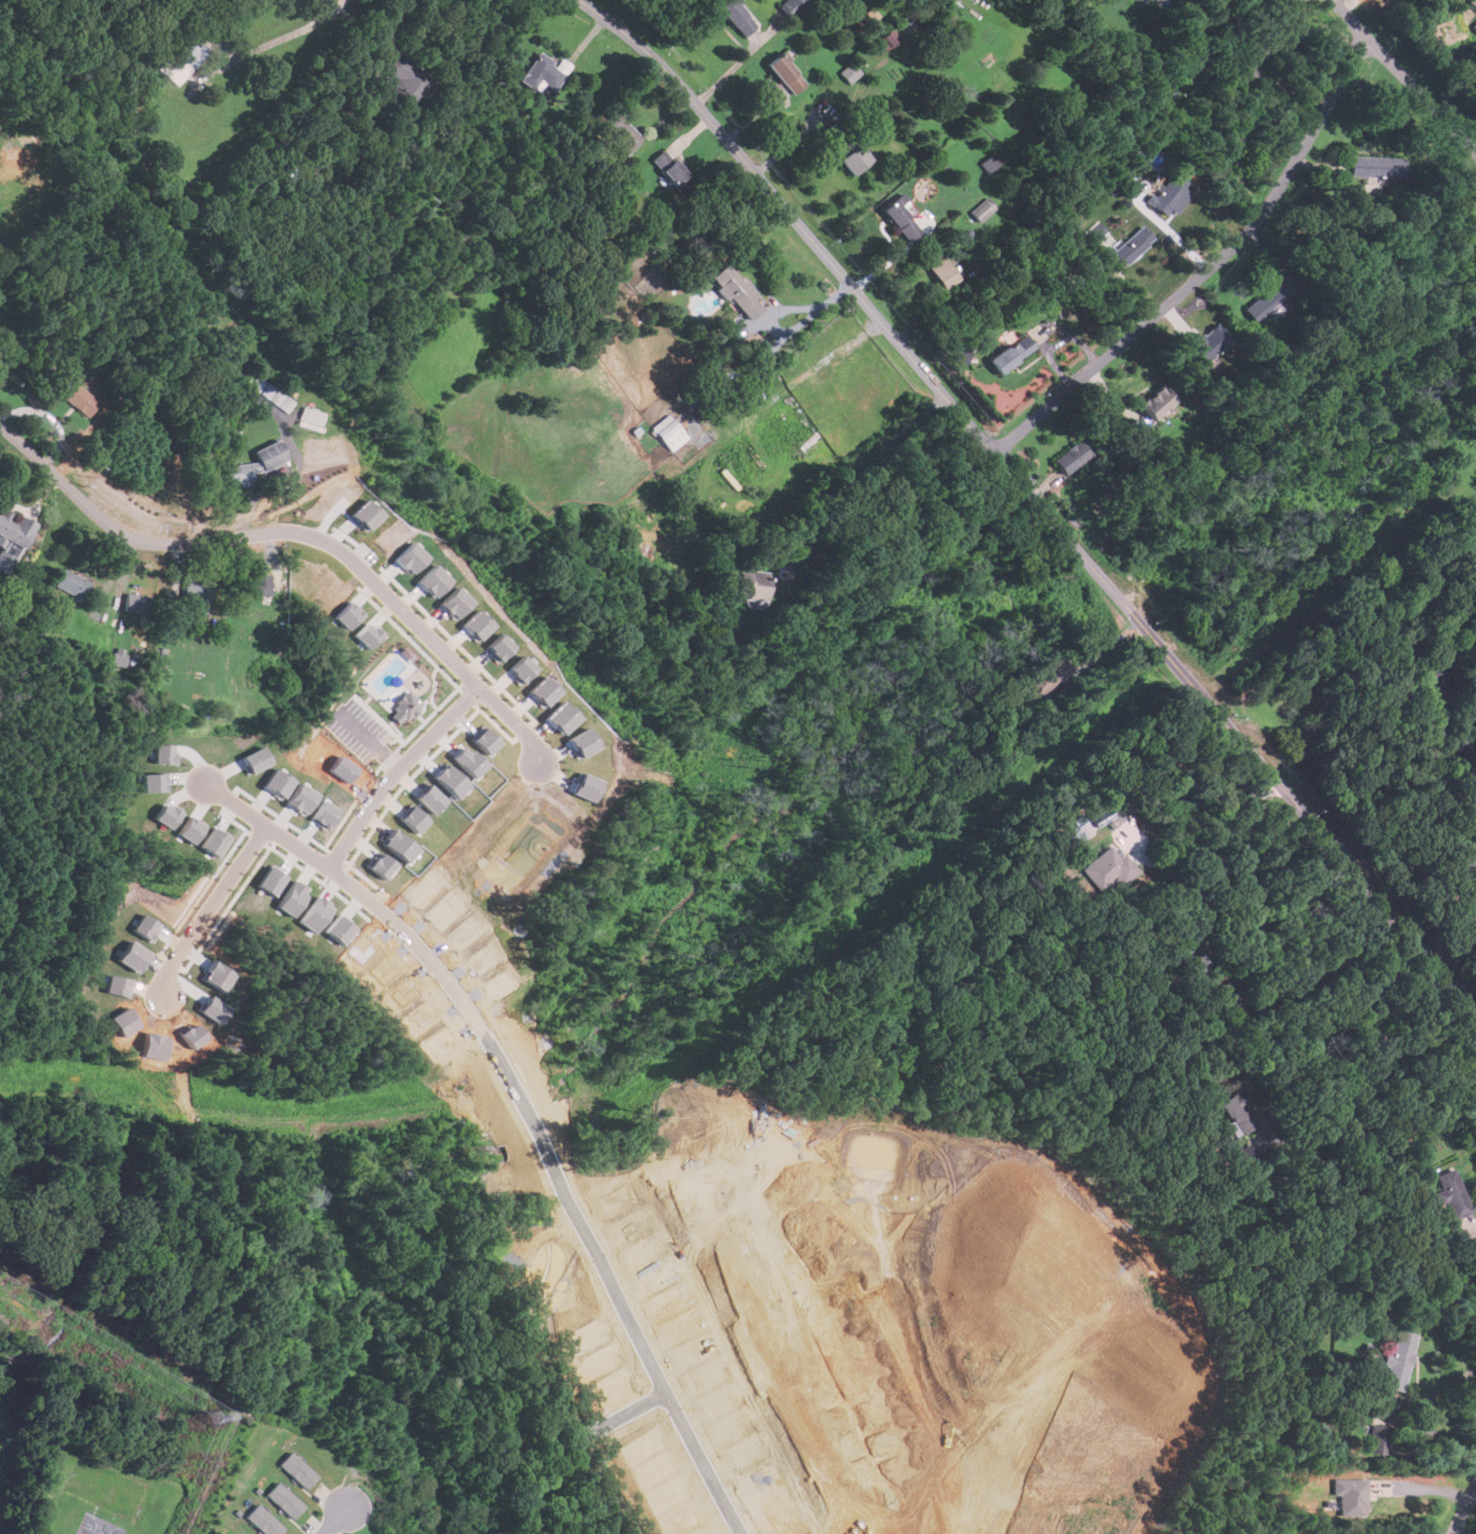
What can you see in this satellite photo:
building: (1472, 4)
building: (791, 6)
building: (736, 17)
road: (1348, 19)
building: (343, 20)
building: (1474, 26)
road: (284, 36)
building: (1243, 38)
building: (888, 39)
building: (181, 60)
building: (850, 73)
building: (541, 74)
building: (786, 74)
building: (407, 81)
road: (1283, 85)
road: (1455, 96)
road: (1420, 97)
building: (621, 134)
building: (846, 148)
building: (989, 163)
building: (1376, 167)
building: (670, 170)
building: (1168, 196)
building: (982, 210)
building: (900, 220)
road: (1167, 230)
building: (1094, 231)
building: (1130, 247)
road: (1206, 269)
building: (940, 271)
building: (737, 293)
building: (1268, 300)
road: (790, 329)
building: (1208, 341)
building: (1011, 354)
road: (827, 362)
building: (272, 394)
building: (80, 401)
building: (1157, 403)
building: (310, 418)
building: (668, 432)
building: (1072, 456)
building: (257, 463)
road: (852, 474)
road: (1033, 502)
building: (363, 514)
building: (14, 529)
road: (292, 533)
building: (408, 558)
building: (431, 580)
building: (70, 584)
building: (255, 585)
building: (750, 586)
building: (197, 591)
building: (453, 602)
building: (135, 603)
building: (475, 625)
building: (498, 646)
building: (118, 656)
building: (520, 669)
building: (1047, 676)
building: (1434, 676)
building: (542, 691)
building: (560, 717)
building: (1454, 749)
building: (469, 761)
road: (395, 772)
building: (451, 780)
road: (1424, 783)
building: (1102, 817)
building: (1077, 832)
road: (1206, 839)
building: (1470, 864)
building: (1107, 867)
road: (1243, 881)
road: (213, 907)
building: (1256, 922)
road: (1450, 937)
road: (1321, 957)
building: (1190, 959)
building: (1230, 998)
road: (1362, 1071)
building: (1238, 1112)
road: (527, 1119)
building: (1244, 1155)
building: (1453, 1193)
road: (1475, 1224)
road: (1131, 1355)
road: (829, 1360)
building: (1398, 1360)
road: (1432, 1394)
power tower: (214, 1417)
road: (1440, 1436)
building: (1380, 1441)
building: (297, 1470)
road: (1421, 1486)
building: (1350, 1495)
building: (284, 1500)
road: (1463, 1510)
building: (263, 1520)
road: (332, 1521)
park: (97, 1524)
road: (1343, 1533)

